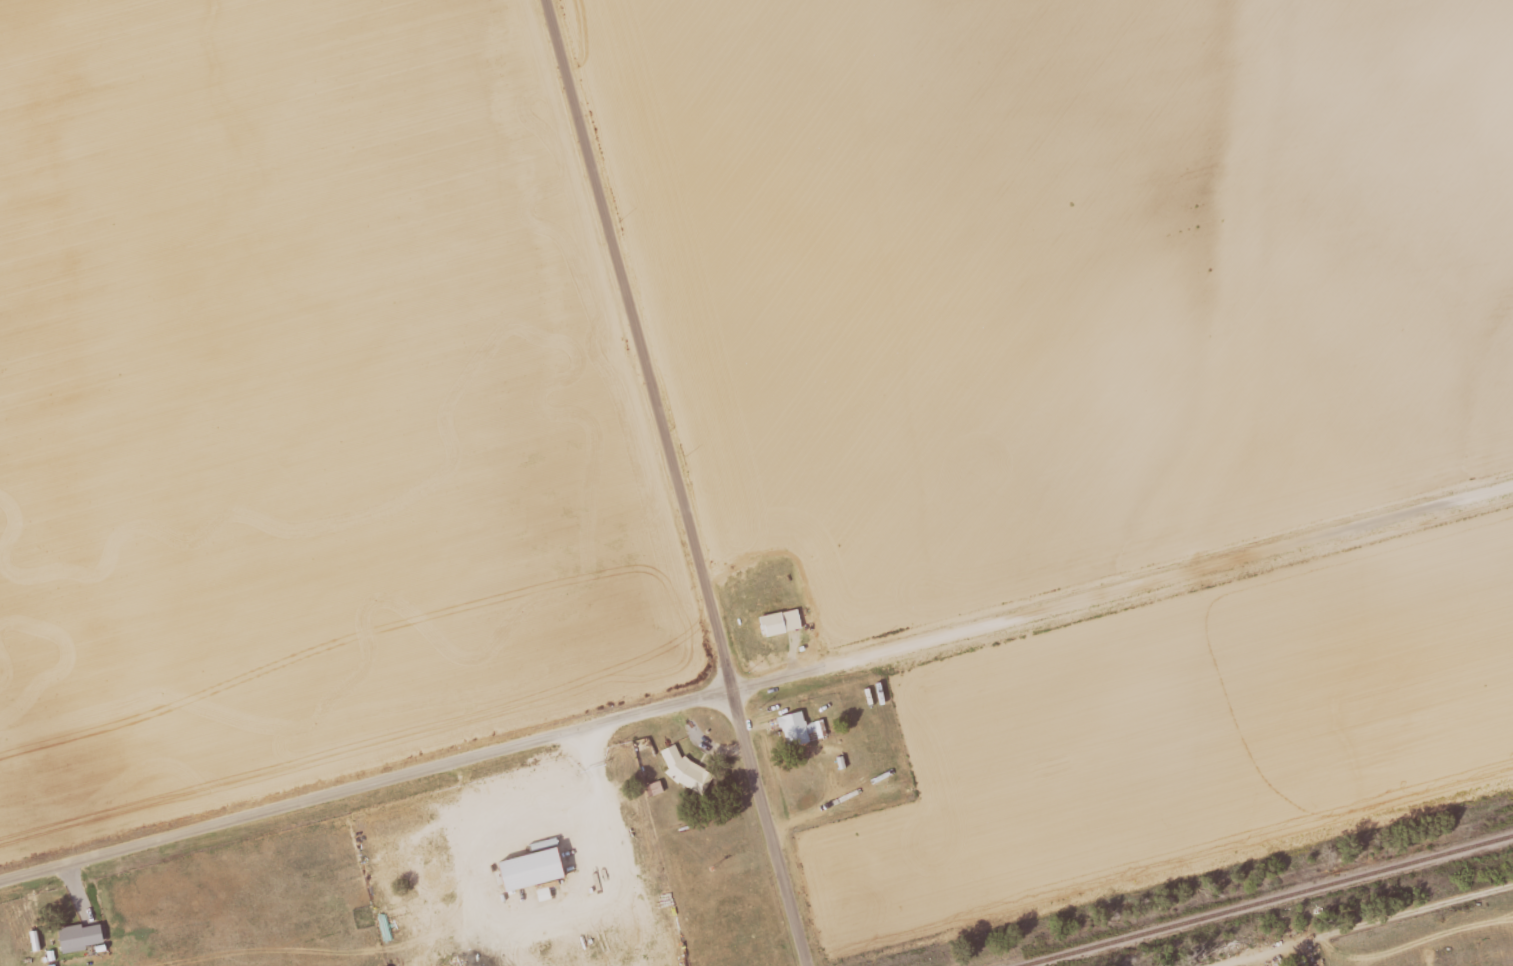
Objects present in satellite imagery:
road: (640, 341)
building: (781, 622)
road: (756, 682)
building: (795, 728)
building: (683, 767)
road: (771, 826)
railway: (1263, 899)
road: (1356, 924)

